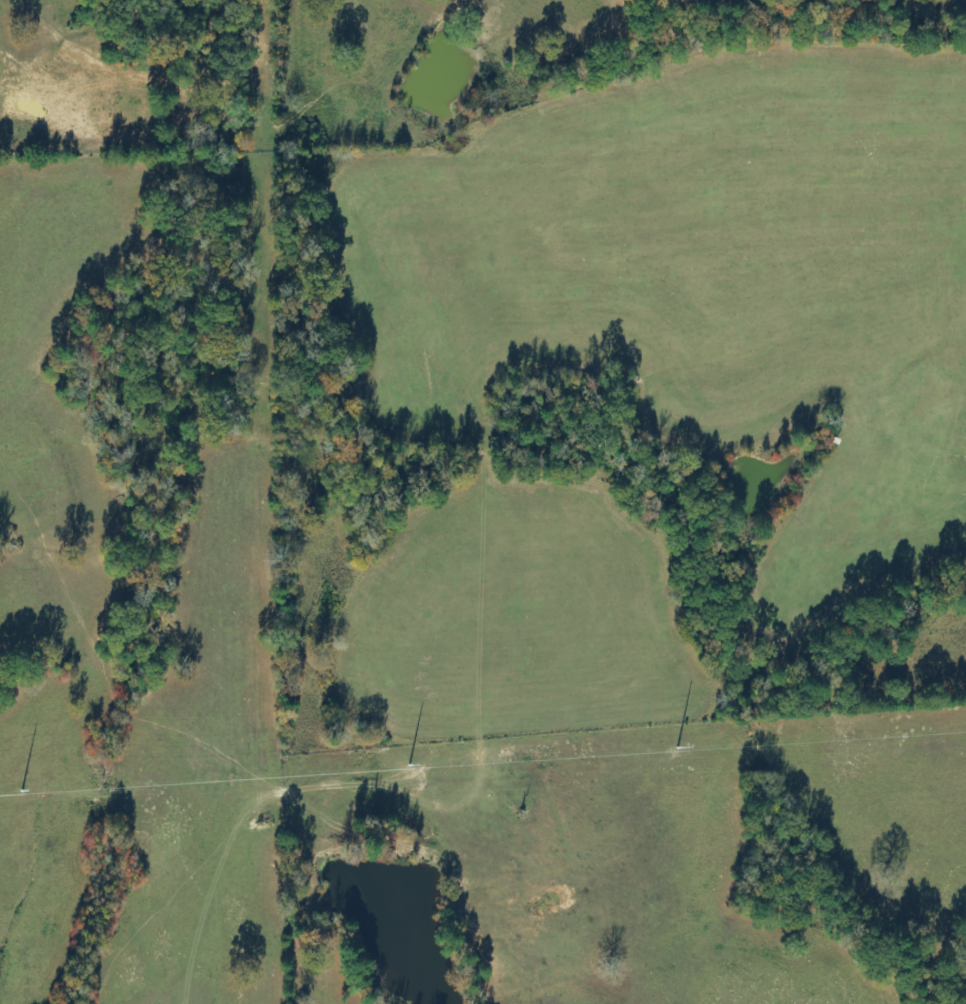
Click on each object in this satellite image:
power tower: (900, 737)
power tower: (545, 760)
power tower: (231, 782)

